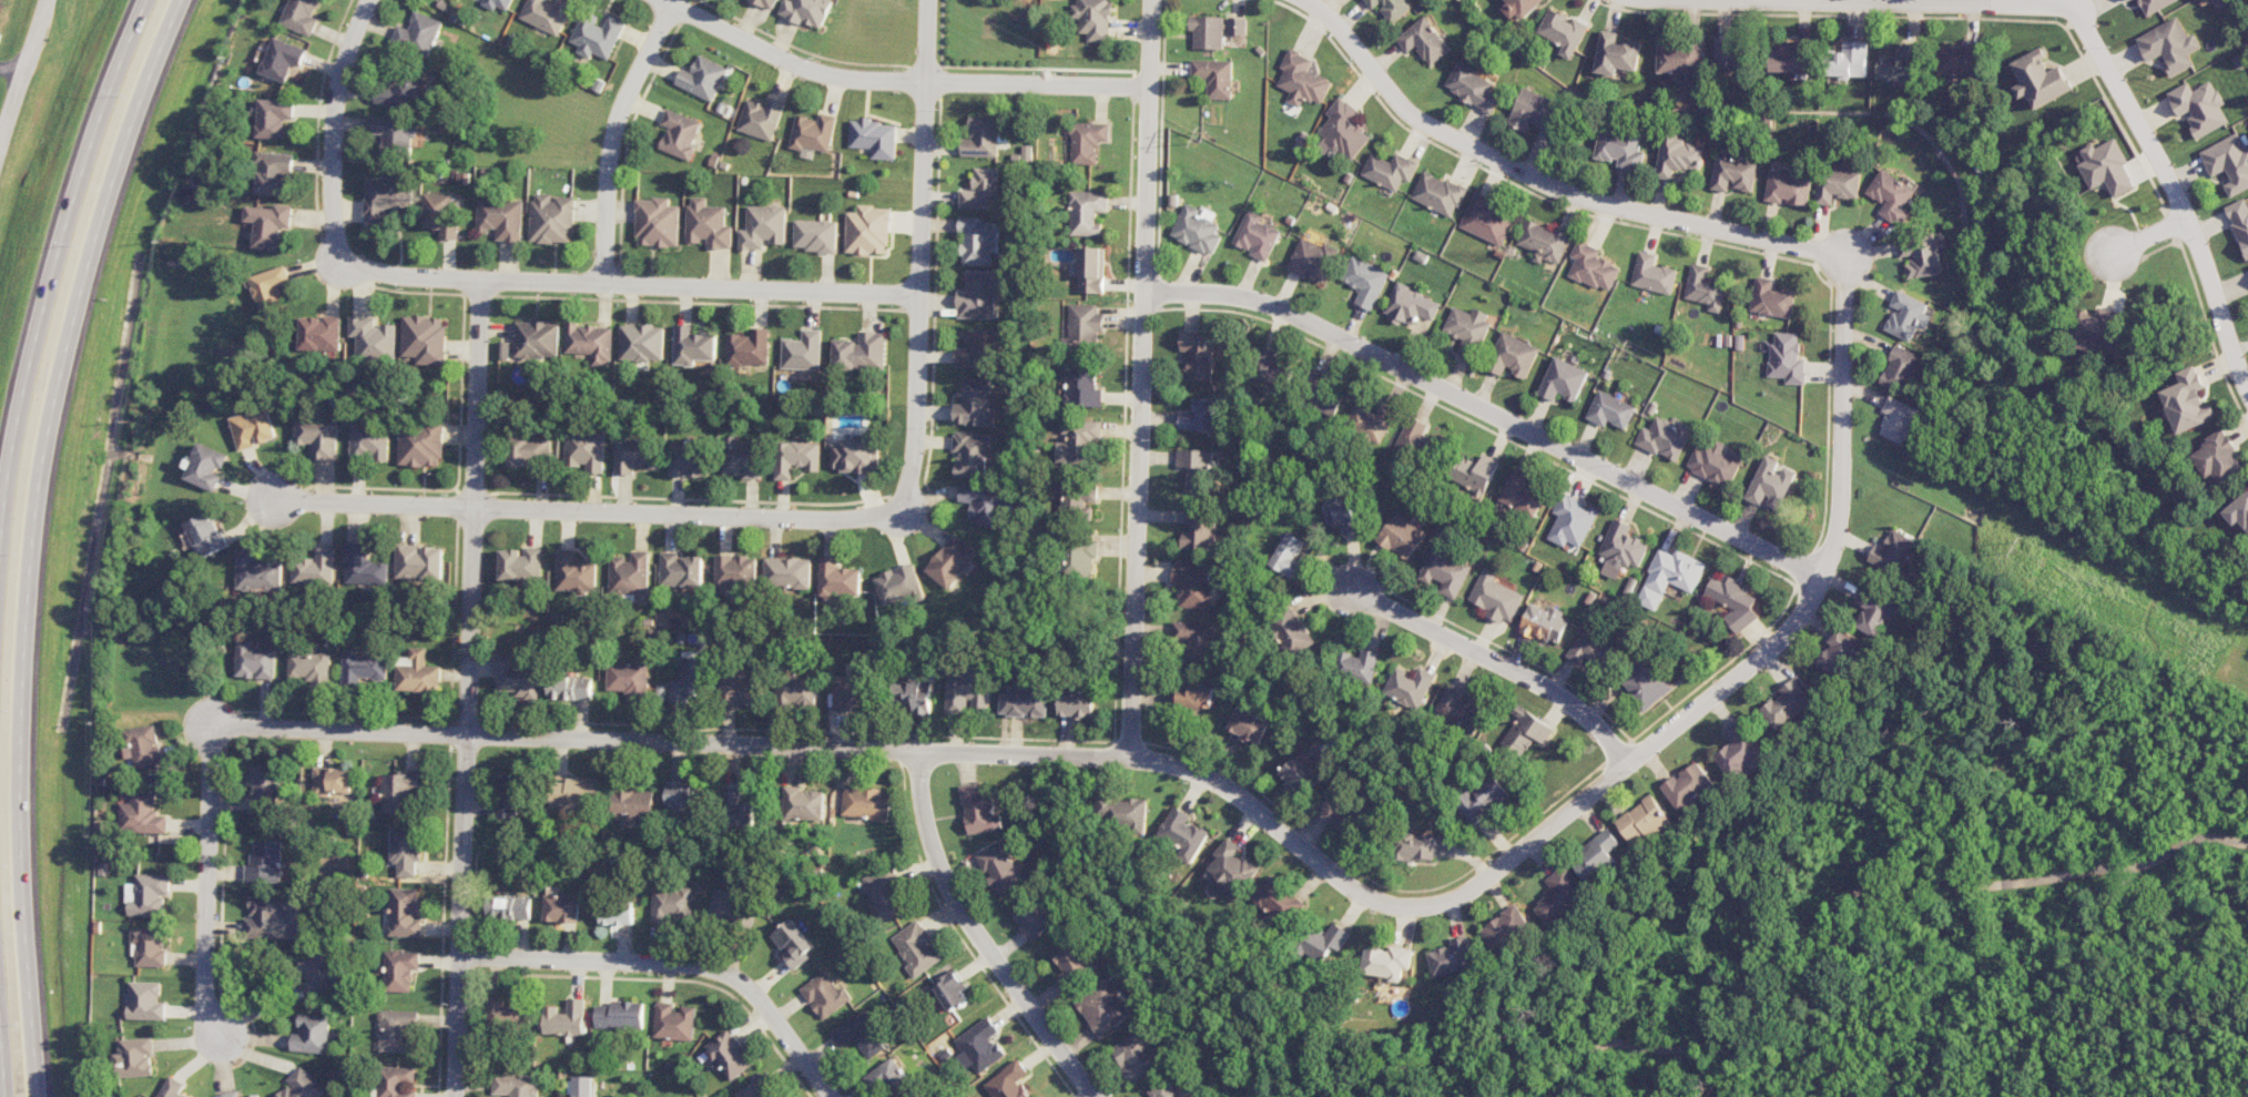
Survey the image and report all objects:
building: (2127, 0)
building: (767, 2)
road: (1886, 2)
building: (498, 3)
building: (2154, 4)
building: (1391, 8)
building: (1522, 9)
building: (806, 11)
building: (547, 14)
building: (301, 16)
building: (1092, 19)
building: (1235, 26)
building: (1207, 31)
building: (1565, 31)
building: (597, 34)
building: (418, 35)
building: (1425, 40)
building: (2169, 45)
building: (1618, 53)
building: (1732, 58)
building: (1793, 58)
building: (283, 59)
building: (1681, 59)
building: (1961, 59)
building: (1851, 60)
building: (1902, 64)
road: (13, 68)
road: (24, 74)
building: (1213, 77)
building: (702, 78)
road: (898, 79)
building: (2041, 79)
building: (1301, 80)
building: (1473, 87)
building: (401, 90)
building: (2199, 106)
building: (1530, 109)
building: (275, 118)
building: (761, 118)
road: (333, 129)
building: (1342, 130)
building: (814, 132)
building: (396, 133)
building: (679, 133)
road: (612, 136)
building: (984, 136)
building: (875, 138)
building: (1087, 141)
power tower: (1202, 141)
building: (1620, 149)
building: (1027, 152)
building: (1678, 156)
building: (2229, 162)
building: (2107, 167)
building: (1389, 171)
building: (274, 172)
building: (1733, 173)
road: (2166, 179)
road: (1545, 182)
building: (1837, 185)
building: (1788, 189)
building: (981, 190)
building: (1437, 193)
building: (1892, 196)
building: (385, 197)
building: (1086, 212)
building: (443, 214)
building: (501, 219)
building: (552, 219)
building: (1487, 220)
building: (2239, 222)
building: (657, 223)
building: (269, 224)
building: (708, 224)
building: (763, 226)
building: (1197, 228)
building: (868, 230)
building: (815, 235)
building: (1257, 235)
building: (977, 241)
building: (1543, 241)
road: (2136, 241)
road: (920, 255)
building: (1923, 256)
building: (1312, 260)
building: (1593, 266)
building: (1091, 270)
road: (57, 271)
building: (1652, 274)
building: (1365, 281)
road: (630, 283)
building: (271, 288)
building: (1705, 288)
building: (979, 295)
building: (1770, 298)
building: (1411, 305)
building: (1908, 315)
building: (1084, 325)
building: (1467, 329)
building: (2097, 331)
building: (321, 333)
building: (425, 338)
building: (374, 339)
building: (537, 339)
building: (590, 342)
building: (642, 343)
building: (693, 346)
building: (749, 347)
building: (978, 347)
building: (803, 351)
building: (861, 352)
power tower: (1625, 352)
building: (1197, 355)
building: (1512, 355)
building: (1786, 358)
building: (1273, 368)
building: (1902, 369)
road: (1140, 378)
building: (1563, 379)
building: (1080, 385)
building: (2188, 402)
building: (976, 403)
building: (1325, 403)
road: (1488, 409)
building: (1610, 410)
building: (1199, 415)
road: (1840, 418)
building: (1371, 420)
building: (1901, 420)
building: (254, 428)
building: (319, 436)
building: (1661, 439)
building: (369, 440)
building: (1077, 440)
building: (1414, 440)
building: (421, 444)
building: (530, 450)
building: (586, 450)
building: (634, 454)
building: (972, 454)
building: (855, 455)
building: (796, 457)
building: (690, 458)
building: (741, 458)
building: (2217, 458)
building: (1716, 463)
building: (207, 466)
building: (1196, 468)
building: (1473, 473)
building: (1770, 483)
building: (1522, 492)
building: (1077, 499)
building: (985, 504)
road: (576, 509)
building: (2238, 511)
building: (1341, 515)
building: (1571, 520)
building: (206, 535)
building: (1401, 536)
road: (38, 538)
power tower: (2017, 547)
building: (1621, 549)
building: (1893, 551)
building: (1289, 555)
building: (1079, 557)
building: (953, 561)
building: (419, 562)
building: (364, 566)
building: (521, 566)
building: (316, 568)
building: (681, 570)
building: (735, 571)
building: (258, 572)
building: (574, 572)
building: (789, 572)
building: (1445, 572)
building: (629, 573)
building: (1670, 576)
building: (840, 579)
building: (1192, 583)
building: (901, 585)
building: (1496, 597)
building: (1735, 600)
building: (1872, 612)
building: (1544, 622)
building: (1293, 632)
building: (1196, 638)
building: (1591, 649)
building: (1840, 653)
road: (1487, 656)
building: (255, 661)
building: (1357, 666)
building: (312, 668)
building: (363, 668)
building: (416, 672)
building: (515, 677)
building: (628, 677)
building: (688, 680)
building: (1648, 684)
road: (468, 687)
building: (1410, 687)
building: (570, 688)
building: (739, 690)
building: (795, 690)
building: (967, 690)
building: (846, 691)
building: (913, 695)
building: (1196, 695)
building: (1025, 700)
building: (1077, 703)
building: (1788, 703)
building: (1459, 709)
building: (1249, 725)
building: (1526, 731)
building: (142, 744)
building: (1740, 750)
road: (1101, 756)
building: (1296, 774)
building: (333, 781)
building: (1687, 785)
building: (264, 789)
building: (398, 791)
building: (576, 792)
building: (508, 795)
building: (682, 796)
building: (1483, 800)
building: (630, 803)
building: (803, 803)
building: (865, 803)
building: (736, 809)
building: (979, 810)
building: (1336, 811)
building: (1125, 812)
building: (142, 814)
building: (1644, 821)
building: (1183, 832)
building: (1415, 846)
building: (406, 850)
building: (1596, 856)
building: (265, 862)
building: (1233, 866)
building: (999, 867)
road: (1862, 892)
building: (149, 894)
building: (883, 894)
building: (1560, 894)
road: (206, 895)
building: (1281, 901)
building: (671, 904)
building: (509, 907)
building: (729, 907)
building: (562, 908)
building: (405, 913)
building: (617, 913)
building: (267, 915)
building: (1033, 917)
building: (1505, 927)
road: (977, 935)
building: (1326, 942)
building: (793, 943)
building: (150, 946)
building: (915, 948)
building: (1452, 957)
building: (1070, 961)
building: (1387, 962)
road: (674, 963)
building: (400, 969)
building: (319, 974)
building: (950, 991)
building: (825, 995)
building: (146, 1000)
building: (1103, 1007)
building: (505, 1014)
building: (619, 1015)
building: (564, 1018)
building: (673, 1022)
building: (396, 1029)
building: (313, 1034)
building: (857, 1034)
building: (977, 1046)
building: (729, 1055)
building: (1135, 1055)
building: (134, 1057)
road: (1, 1071)
building: (885, 1079)
building: (397, 1081)
building: (1007, 1081)
building: (516, 1085)
building: (303, 1086)
building: (580, 1086)
building: (173, 1088)
building: (755, 1089)
building: (1164, 1089)
building: (230, 1095)
building: (254, 1096)

